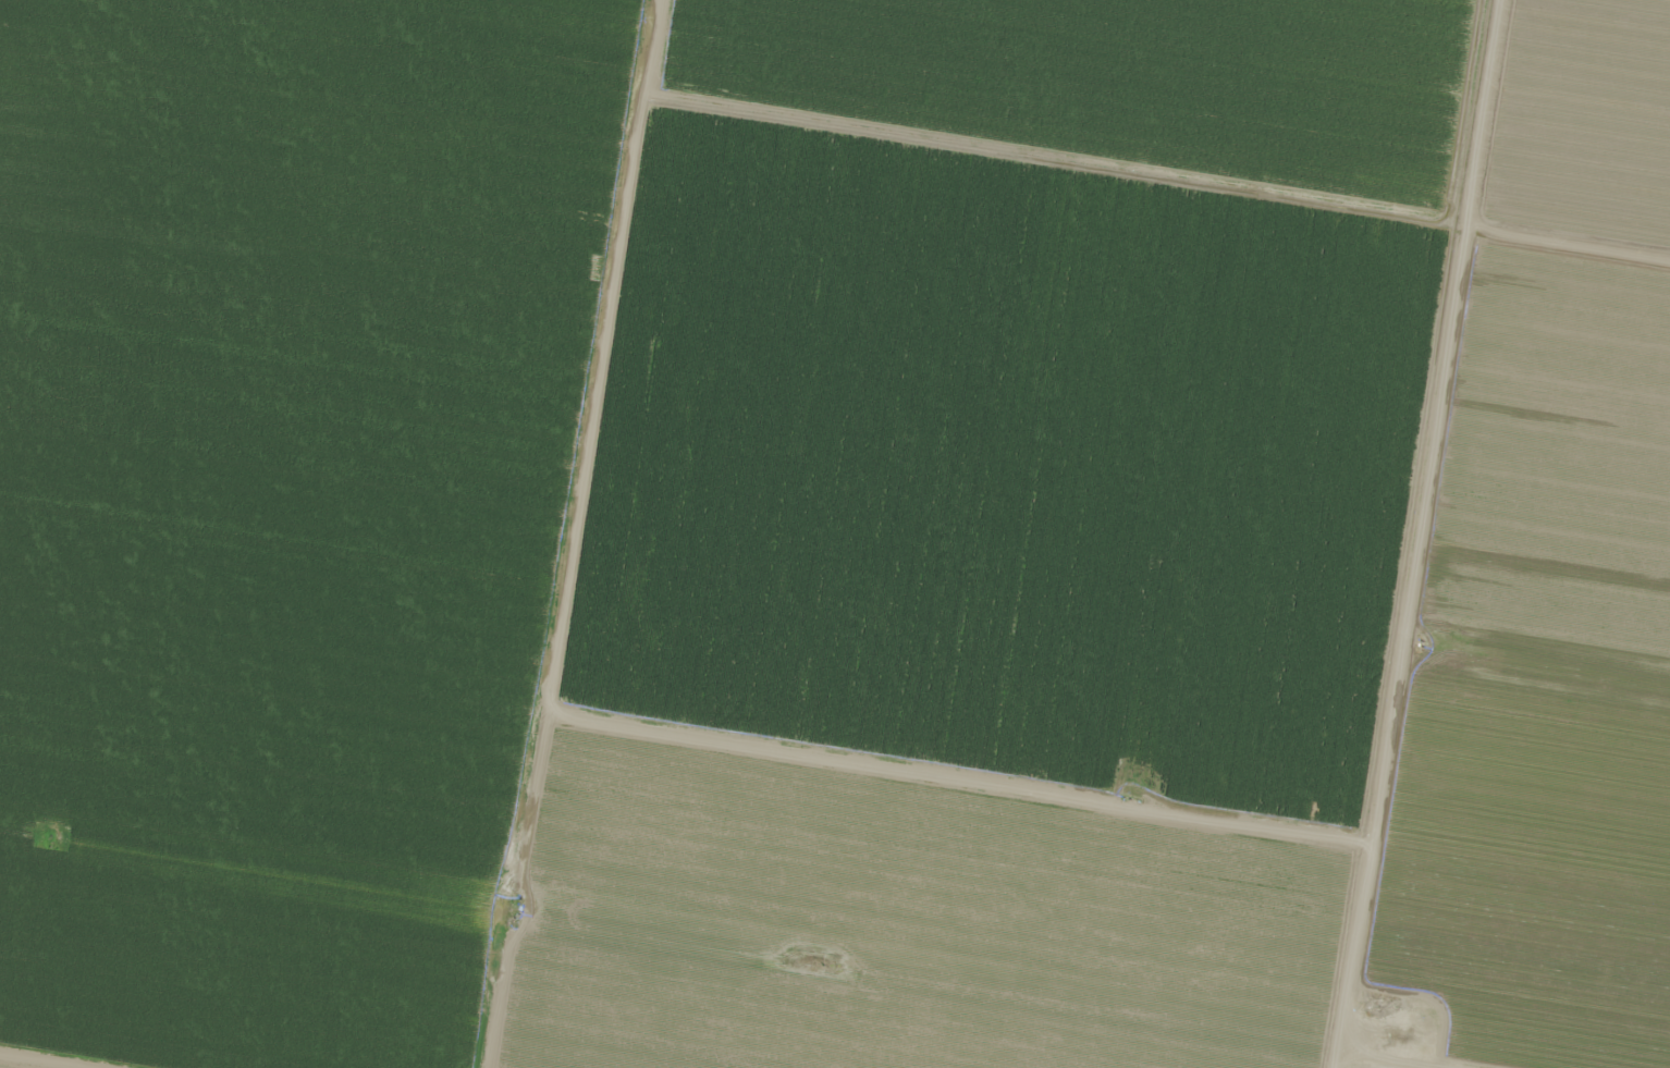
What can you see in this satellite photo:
road: (1576, 224)
road: (1427, 533)
road: (1368, 1063)

